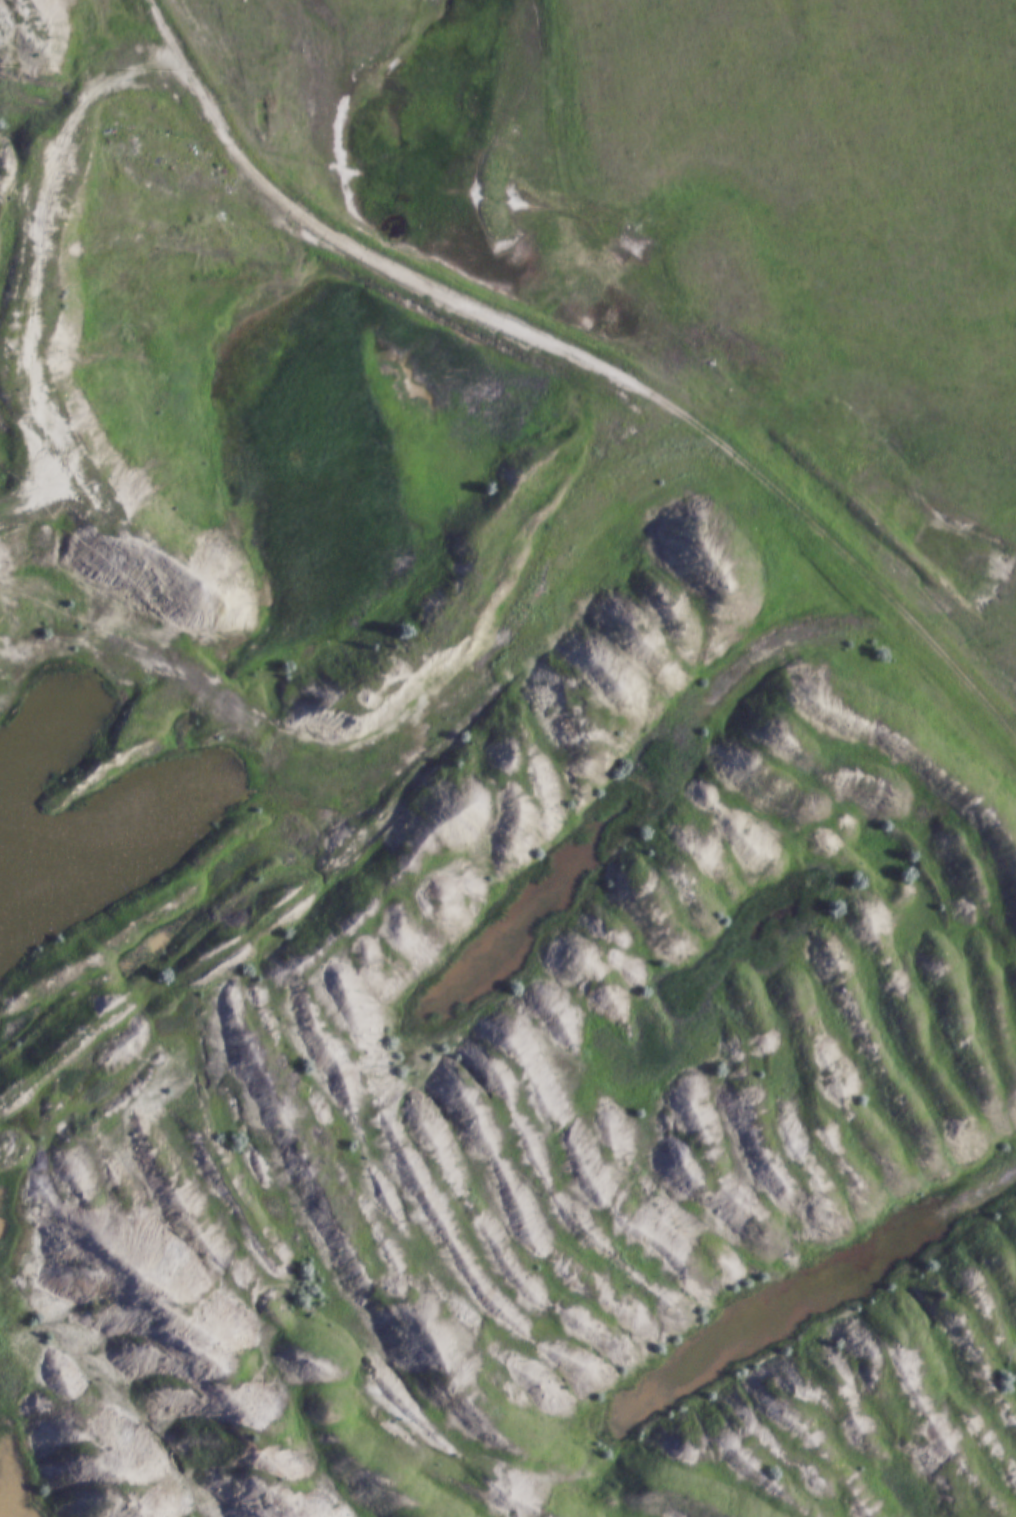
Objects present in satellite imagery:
road: (581, 356)
quarry: (461, 878)

